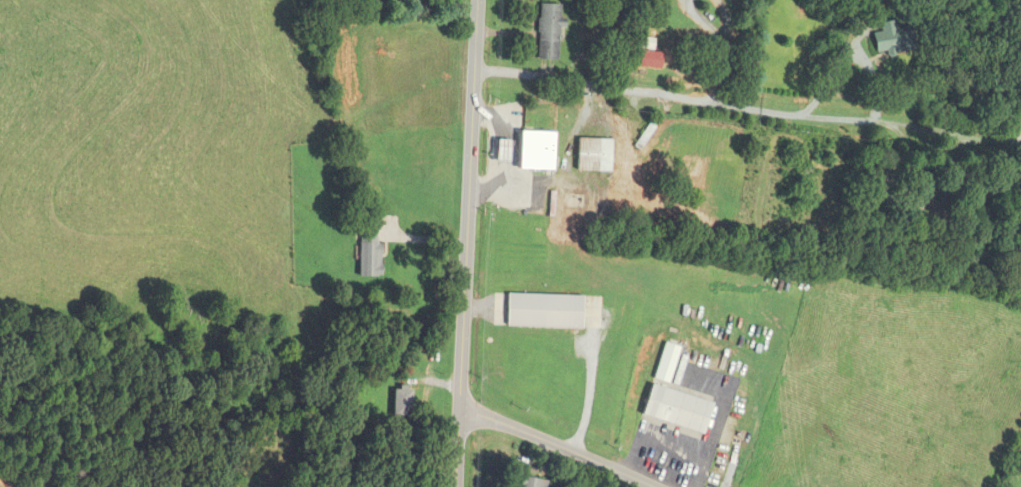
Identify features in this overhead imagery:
building: (545, 32)
building: (886, 40)
building: (648, 60)
road: (742, 107)
building: (1020, 119)
building: (641, 138)
building: (499, 152)
building: (533, 152)
building: (590, 156)
building: (931, 207)
road: (472, 243)
building: (371, 253)
building: (546, 311)
building: (668, 362)
road: (595, 392)
building: (404, 401)
building: (679, 409)
road: (561, 444)
road: (669, 445)
building: (533, 482)

